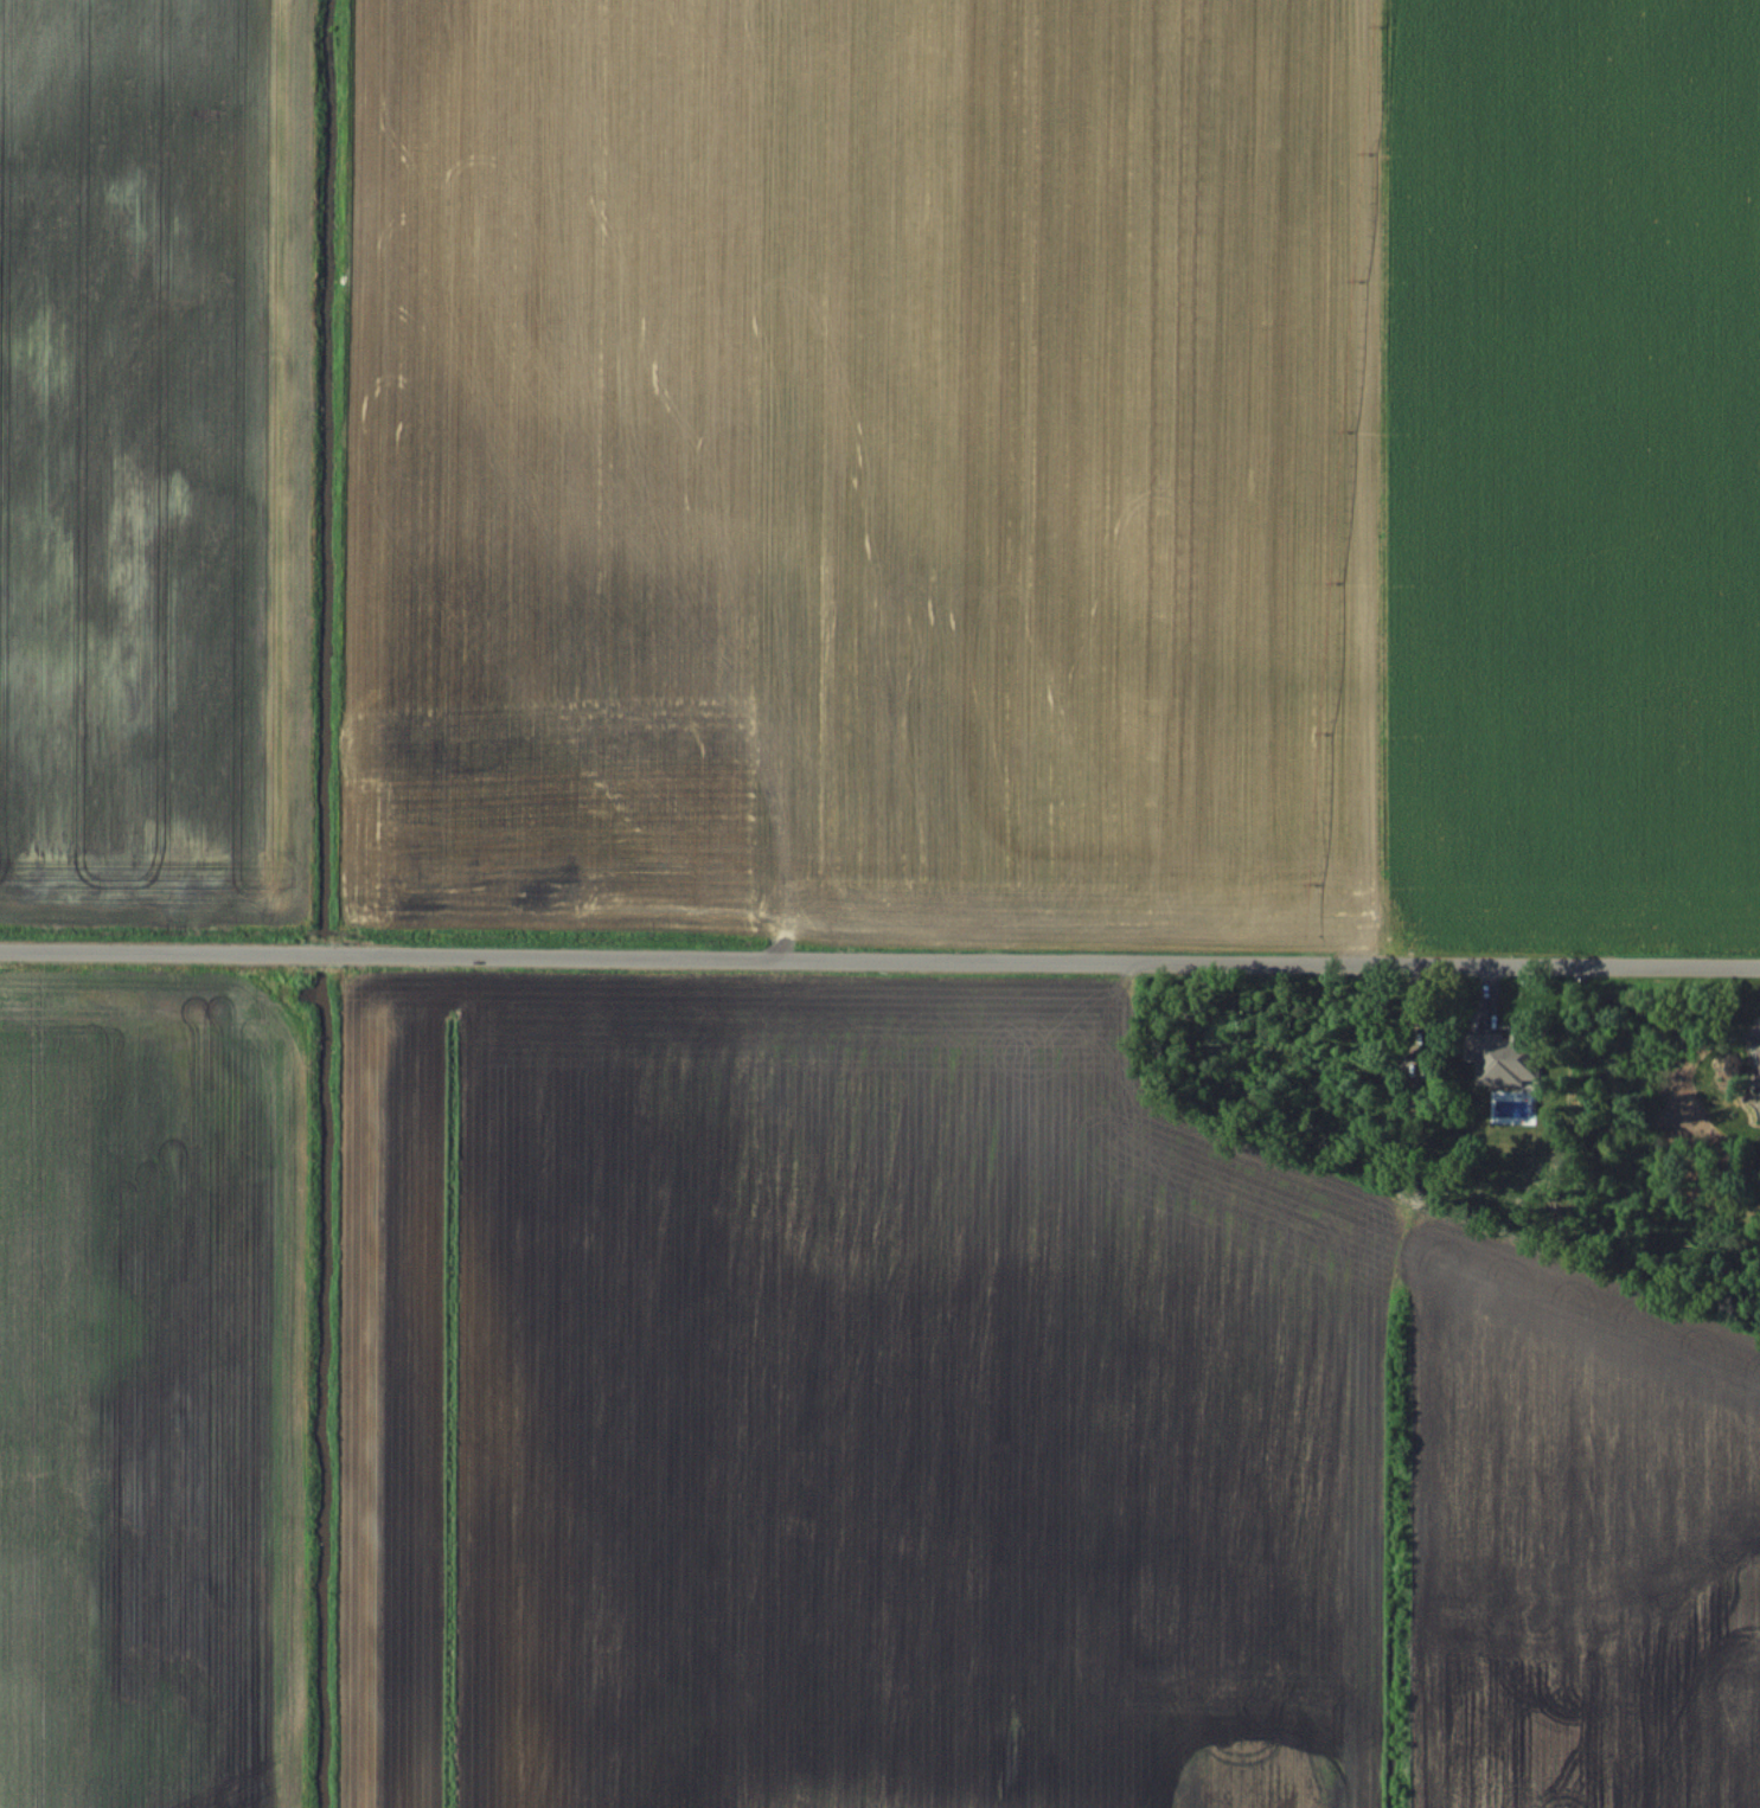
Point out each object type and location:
road: (879, 960)
building: (1503, 1052)
building: (1759, 1060)

